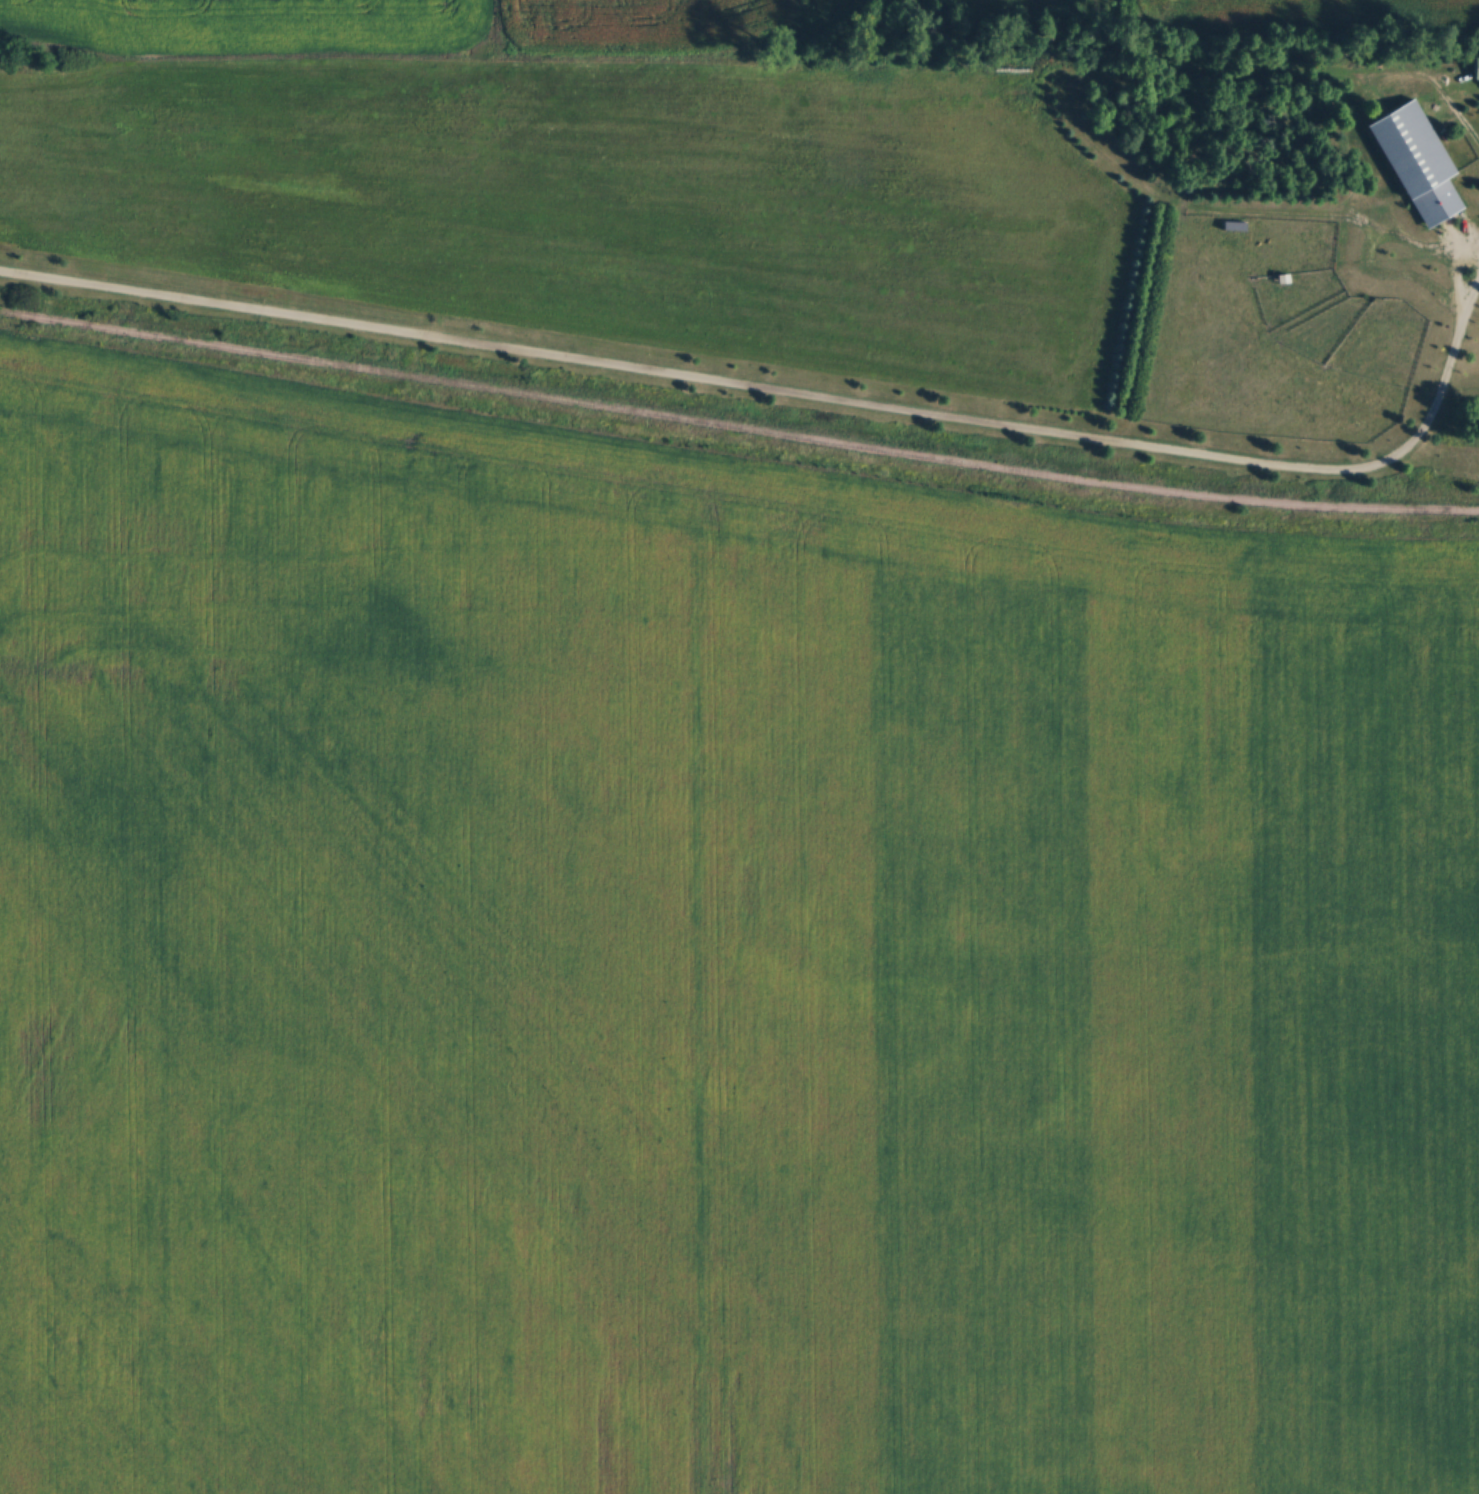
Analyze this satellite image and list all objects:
building: (1477, 71)
building: (1419, 165)
road: (1455, 266)
road: (1473, 286)
road: (788, 392)
railway: (738, 427)

